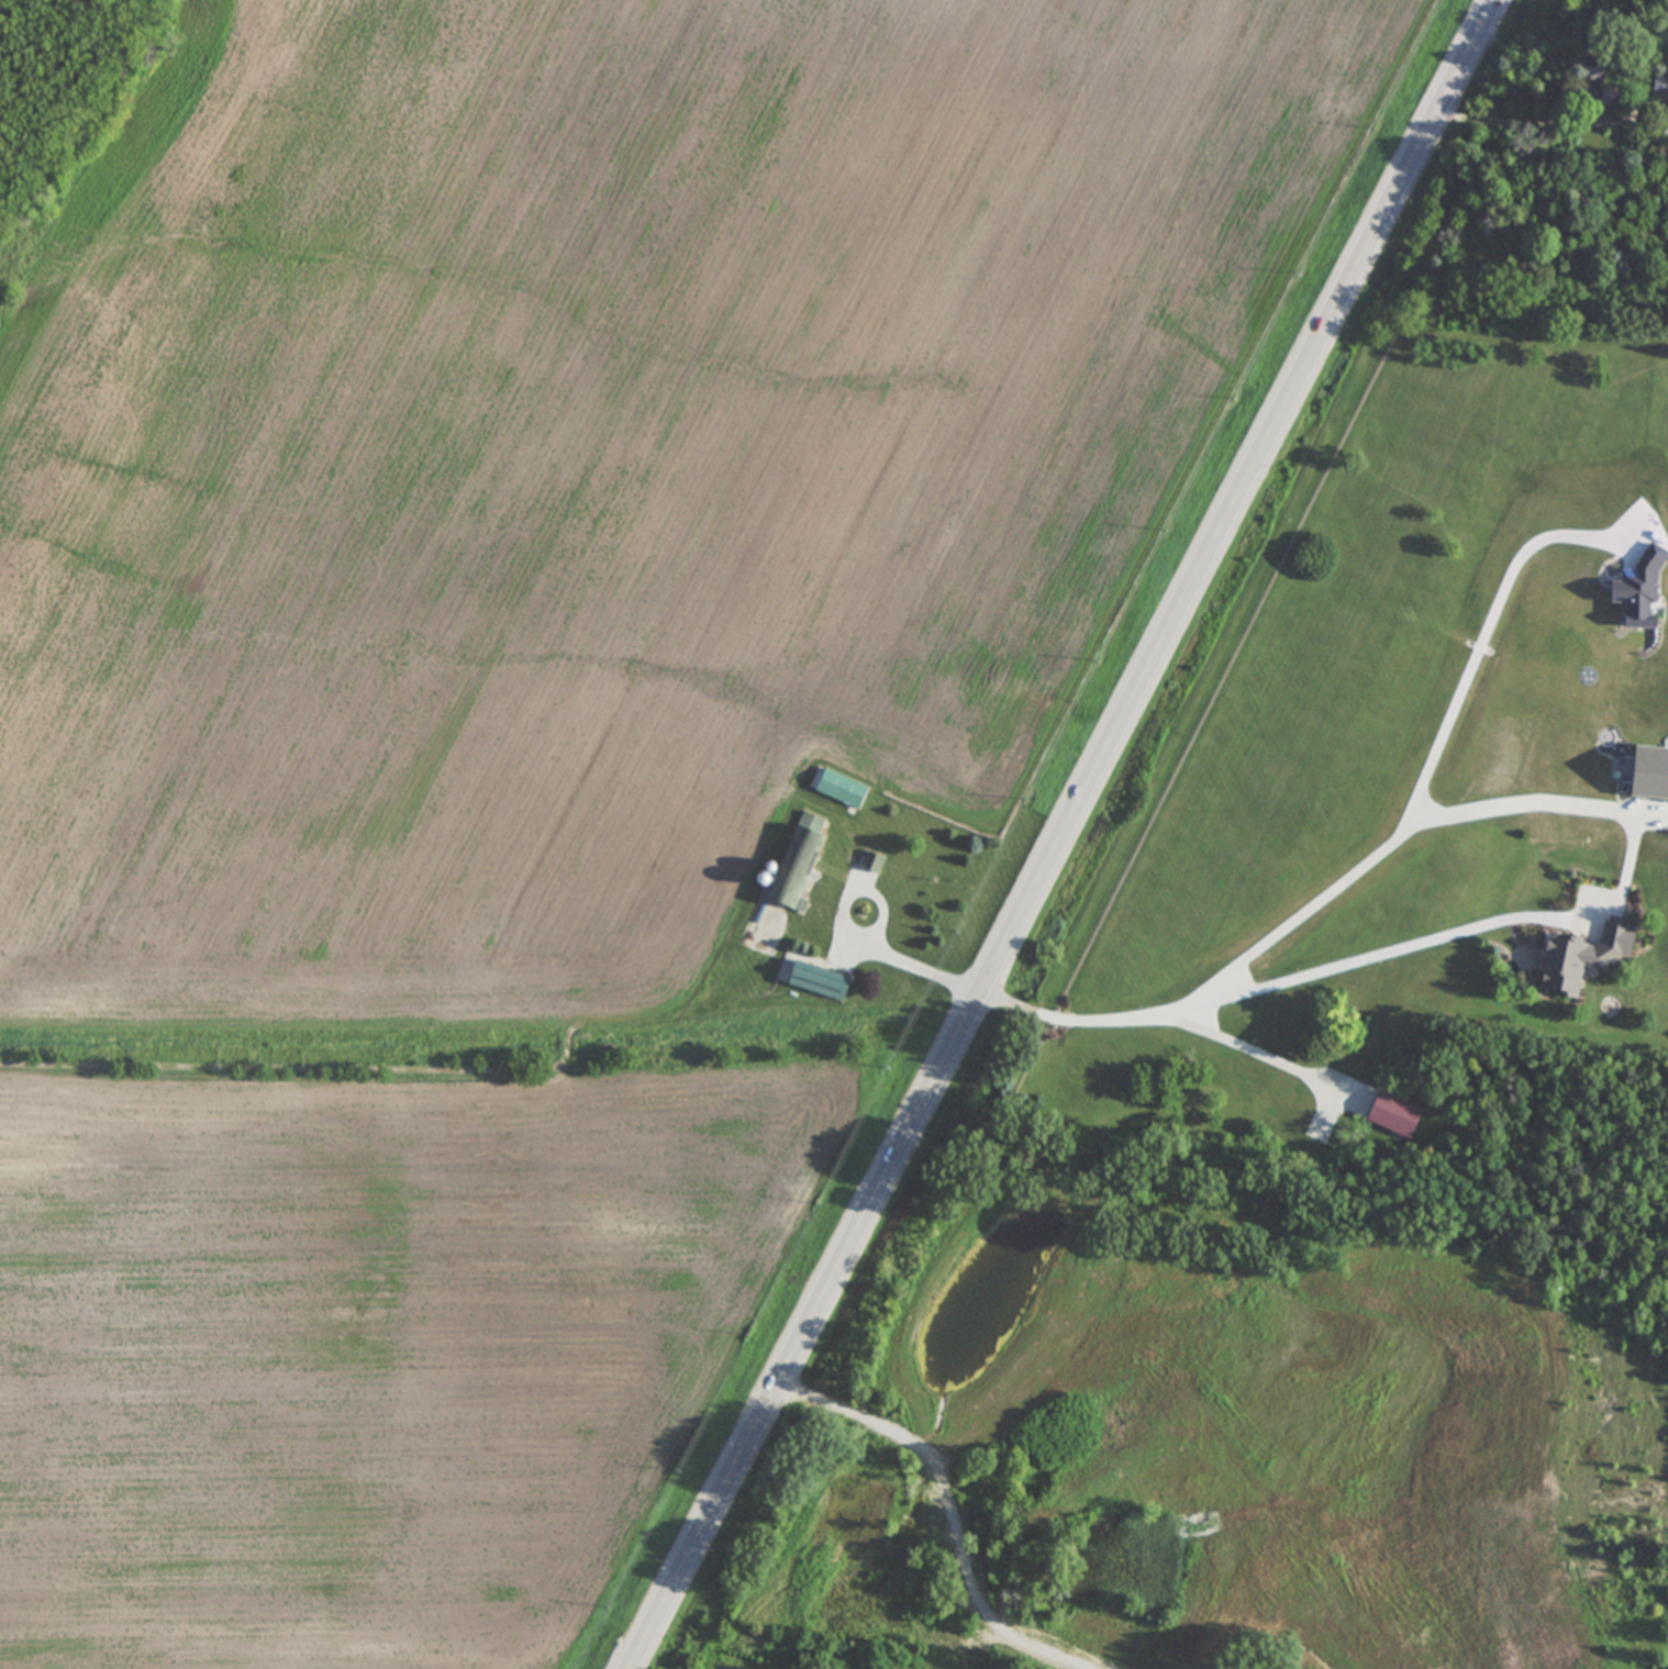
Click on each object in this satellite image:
building: (1590, 96)
building: (1664, 118)
building: (839, 788)
road: (1067, 834)
building: (797, 863)
building: (871, 864)
building: (1578, 959)
road: (1287, 976)
building: (815, 981)
road: (1255, 1049)

